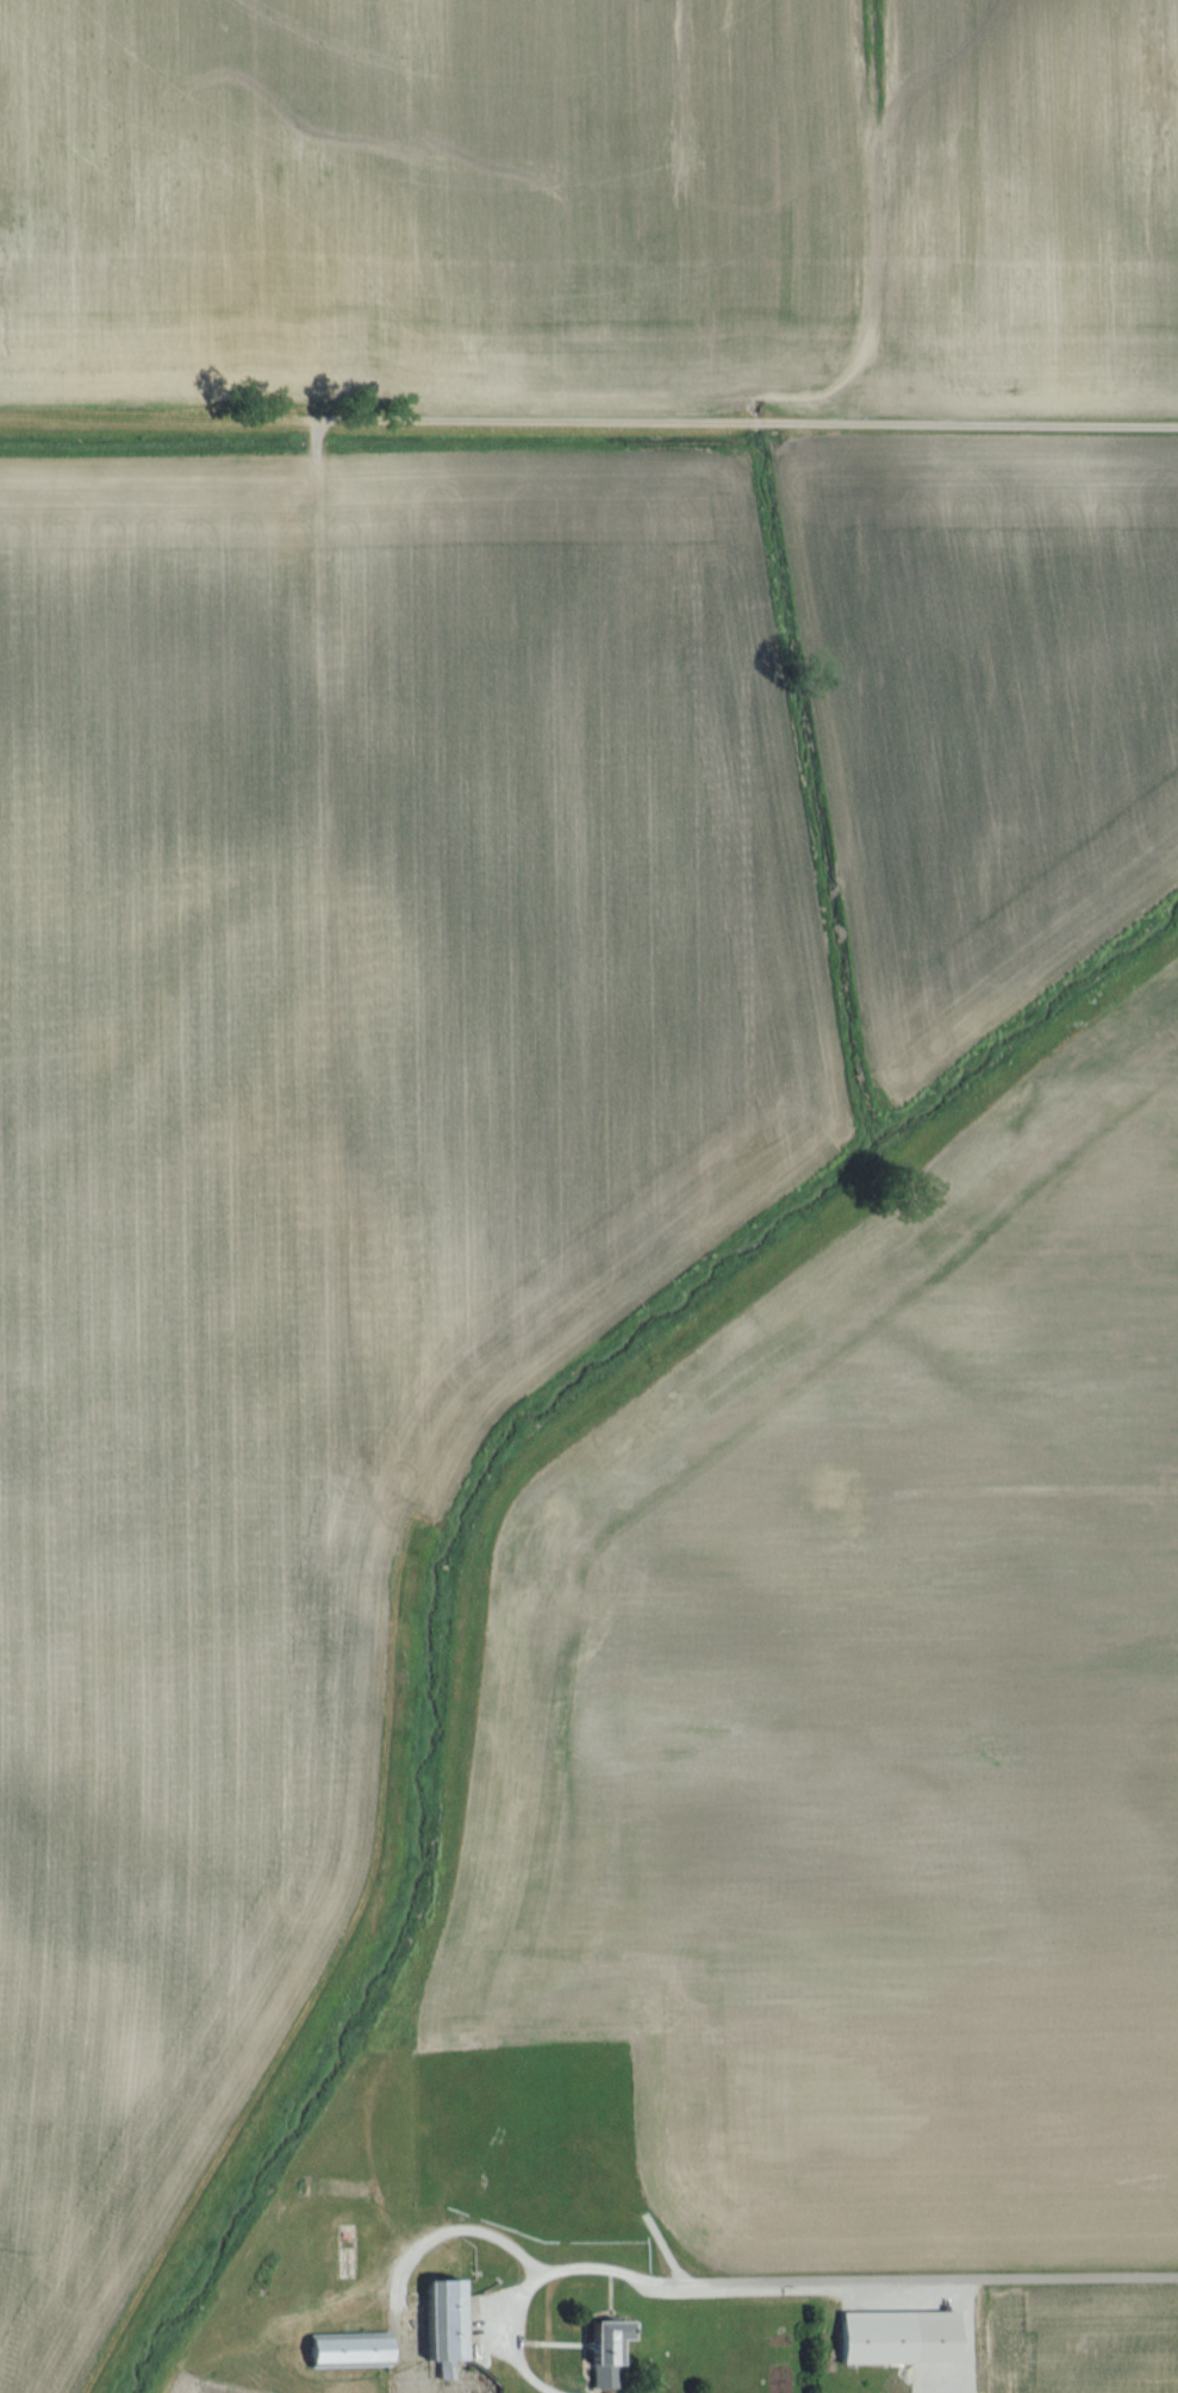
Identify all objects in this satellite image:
road: (748, 423)
road: (866, 2275)
building: (445, 2324)
building: (899, 2337)
building: (351, 2350)

